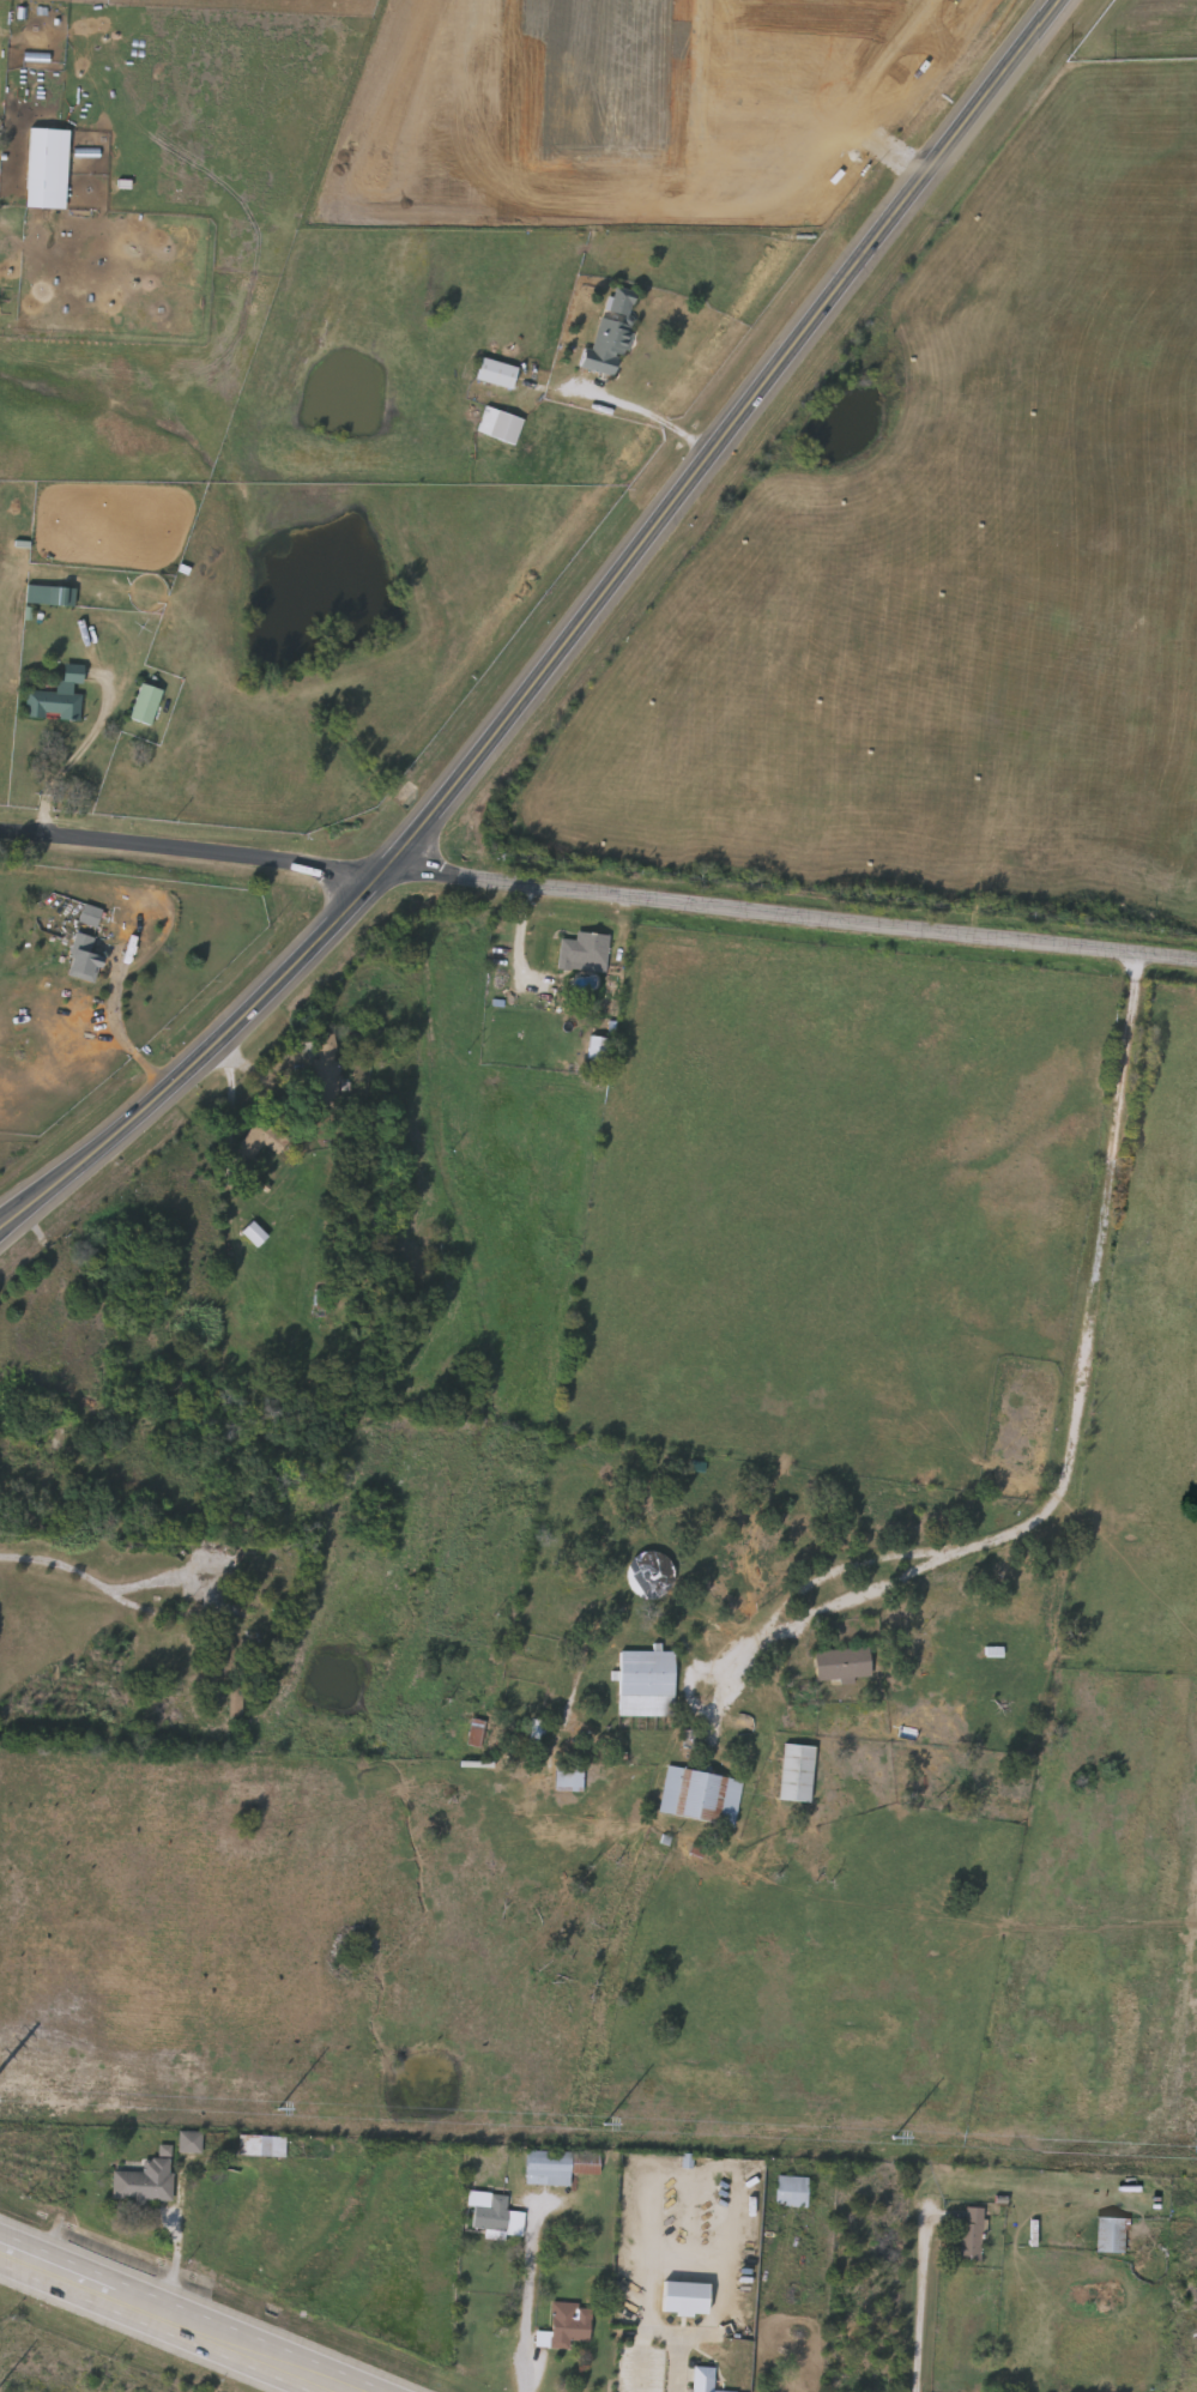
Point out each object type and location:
building: (48, 170)
building: (612, 337)
building: (496, 376)
road: (655, 412)
building: (500, 428)
building: (52, 597)
road: (560, 646)
building: (73, 675)
building: (147, 706)
building: (54, 707)
road: (77, 756)
road: (186, 844)
road: (788, 913)
building: (91, 917)
building: (85, 962)
road: (120, 1037)
building: (325, 1074)
road: (230, 1094)
building: (262, 1141)
road: (5, 1231)
building: (320, 1306)
building: (581, 1366)
road: (1075, 1430)
road: (58, 1564)
road: (846, 1568)
building: (649, 1576)
building: (265, 1581)
road: (199, 1599)
building: (243, 1643)
building: (842, 1667)
building: (646, 1685)
building: (235, 1705)
building: (536, 1733)
building: (477, 1735)
building: (797, 1775)
building: (569, 1780)
building: (701, 1799)
building: (192, 2144)
building: (262, 2149)
building: (558, 2169)
building: (147, 2181)
building: (792, 2194)
building: (494, 2217)
building: (972, 2236)
building: (1112, 2237)
road: (530, 2301)
road: (912, 2301)
road: (171, 2320)
building: (566, 2328)
road: (679, 2368)
building: (702, 2380)

